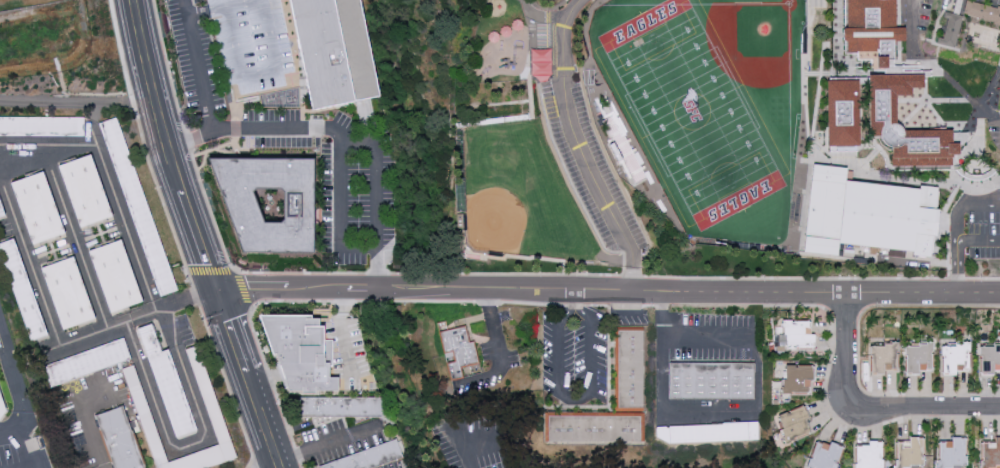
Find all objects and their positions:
building: (981, 12)
road: (541, 16)
road: (912, 25)
building: (871, 29)
building: (950, 29)
road: (293, 40)
building: (335, 51)
building: (245, 64)
building: (540, 64)
road: (260, 73)
park: (705, 75)
road: (204, 88)
road: (78, 100)
road: (303, 108)
park: (693, 112)
building: (842, 112)
building: (882, 112)
road: (996, 116)
road: (366, 118)
road: (93, 124)
building: (41, 125)
road: (141, 137)
road: (169, 145)
road: (581, 148)
road: (40, 155)
road: (342, 163)
parking lot: (592, 163)
road: (378, 178)
building: (84, 190)
park: (517, 196)
building: (269, 202)
building: (137, 206)
building: (37, 207)
building: (0, 209)
building: (866, 214)
road: (960, 225)
parking lot: (977, 231)
road: (75, 241)
road: (959, 268)
road: (231, 269)
road: (475, 273)
building: (115, 275)
building: (21, 288)
traffic signals: (215, 288)
road: (530, 288)
building: (67, 292)
road: (922, 294)
road: (340, 300)
road: (612, 312)
road: (132, 319)
road: (165, 327)
road: (344, 329)
building: (794, 336)
road: (255, 337)
building: (300, 351)
building: (457, 352)
road: (500, 353)
building: (883, 357)
building: (955, 357)
building: (918, 358)
building: (989, 358)
building: (85, 362)
road: (181, 368)
building: (628, 368)
road: (247, 378)
building: (797, 378)
building: (710, 380)
building: (167, 385)
building: (205, 388)
road: (19, 389)
road: (575, 400)
road: (871, 405)
building: (341, 406)
road: (729, 418)
building: (0, 420)
building: (146, 420)
road: (161, 423)
road: (320, 423)
building: (793, 423)
building: (592, 427)
building: (708, 432)
building: (119, 438)
road: (90, 439)
road: (351, 439)
road: (328, 441)
road: (467, 441)
parking lot: (478, 441)
road: (28, 447)
building: (910, 451)
building: (950, 452)
building: (990, 452)
road: (297, 453)
building: (867, 453)
building: (823, 454)
building: (199, 457)
building: (369, 457)
road: (336, 460)
road: (300, 464)
road: (30, 466)

